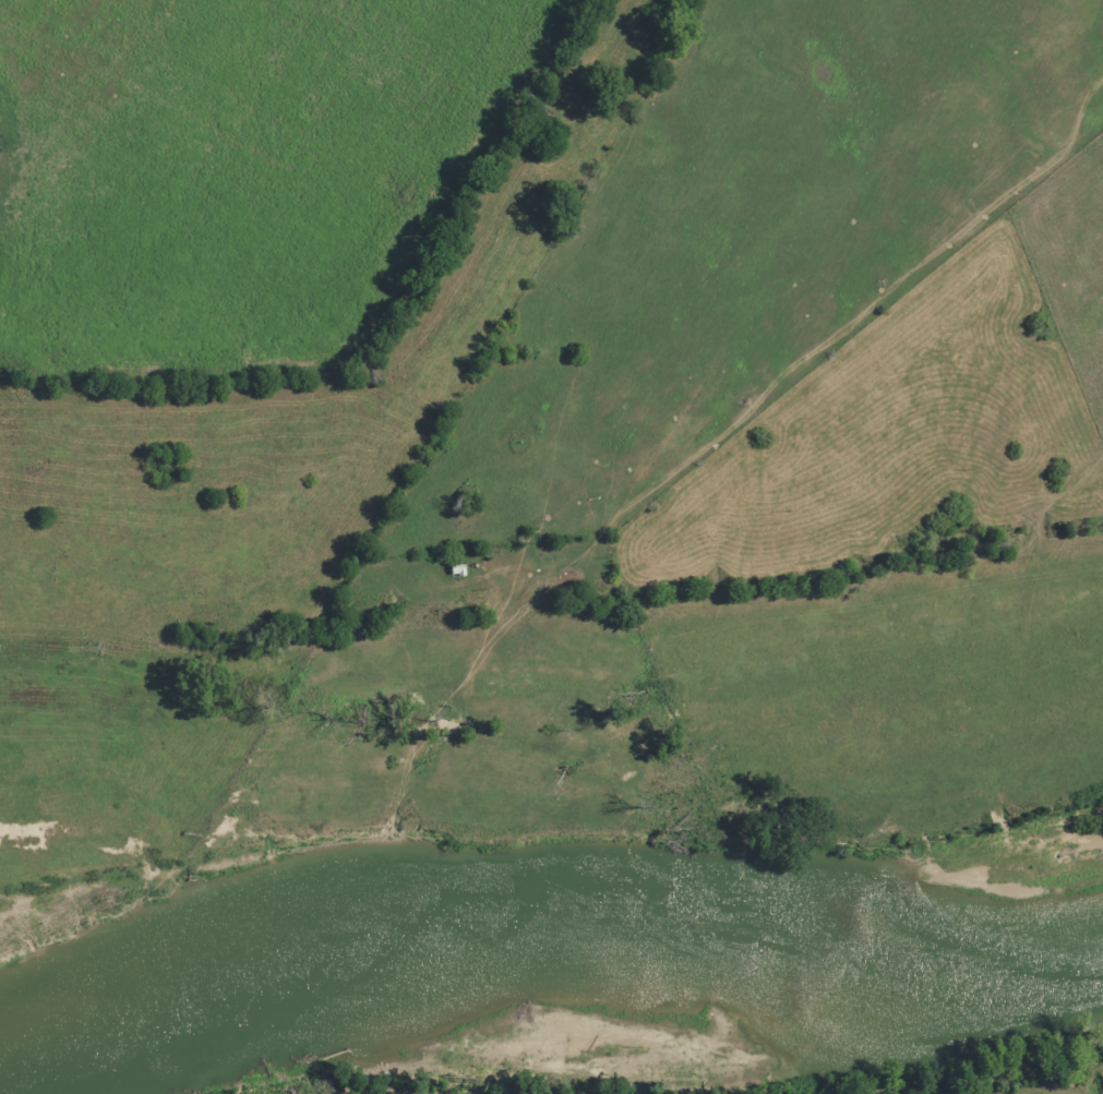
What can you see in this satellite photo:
road: (799, 371)
building: (461, 569)
river: (549, 966)

